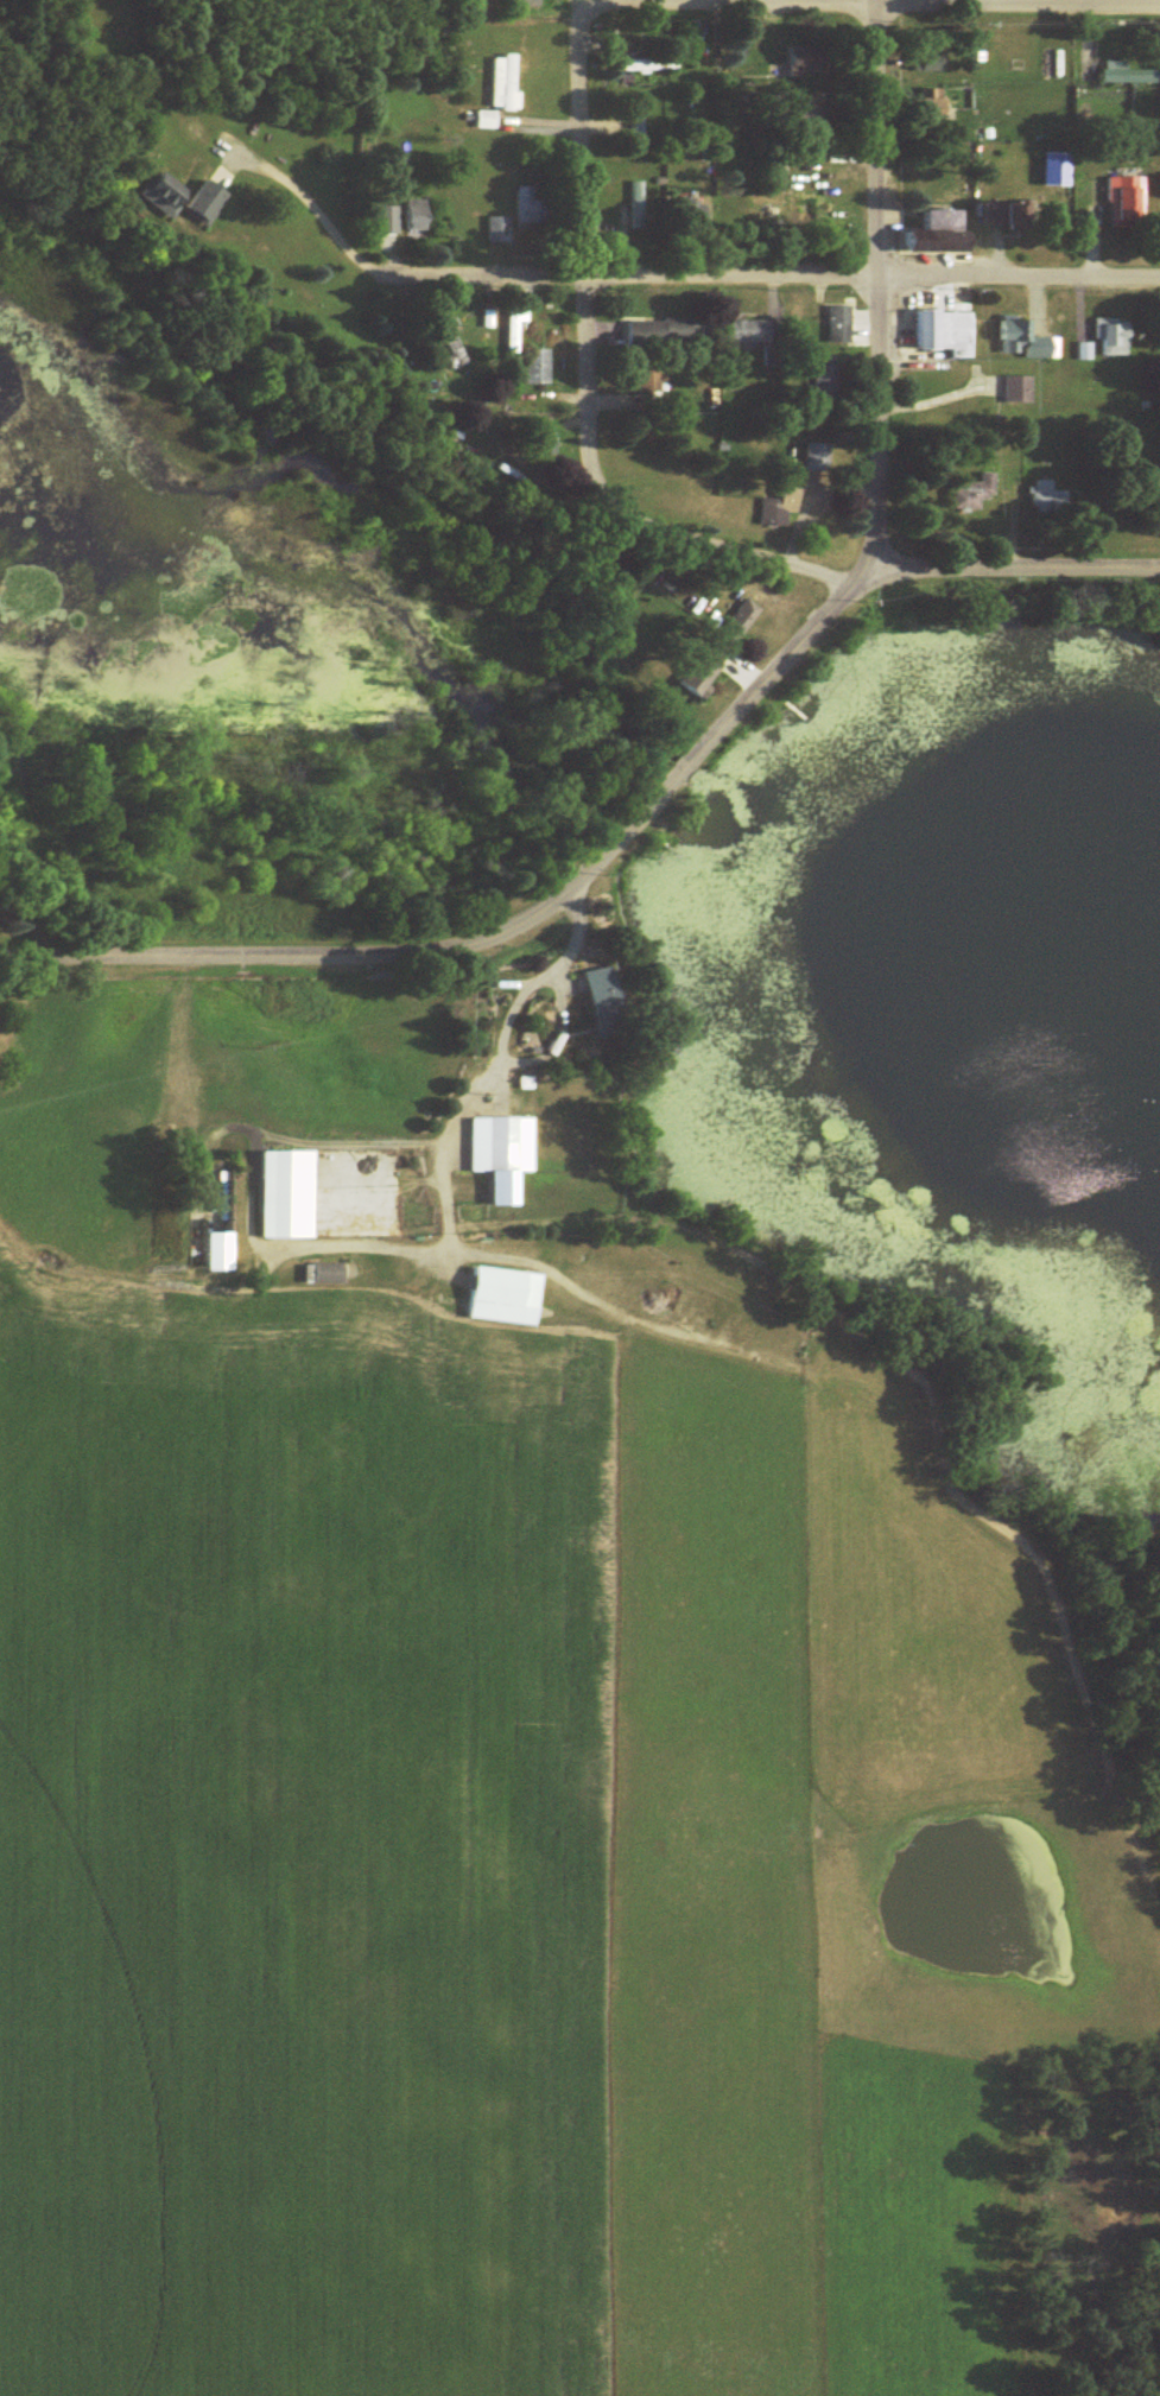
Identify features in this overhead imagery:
building: (531, 2)
building: (809, 62)
building: (936, 62)
building: (651, 64)
building: (1128, 75)
building: (499, 82)
building: (934, 104)
building: (487, 120)
building: (183, 198)
building: (1127, 201)
building: (638, 205)
building: (530, 207)
building: (806, 207)
building: (693, 213)
building: (1010, 215)
building: (417, 216)
building: (497, 230)
building: (940, 234)
road: (771, 255)
road: (577, 271)
road: (871, 271)
building: (841, 324)
building: (749, 331)
building: (947, 332)
building: (513, 334)
building: (659, 334)
building: (1116, 337)
building: (1027, 340)
building: (538, 367)
building: (828, 380)
building: (1019, 389)
building: (817, 457)
building: (972, 493)
building: (1048, 497)
building: (780, 506)
road: (743, 535)
road: (1015, 544)
river: (366, 610)
building: (737, 623)
road: (785, 636)
building: (699, 674)
road: (676, 754)
road: (608, 824)
road: (290, 937)
building: (606, 985)
building: (507, 1152)
building: (290, 1192)
building: (508, 1295)

